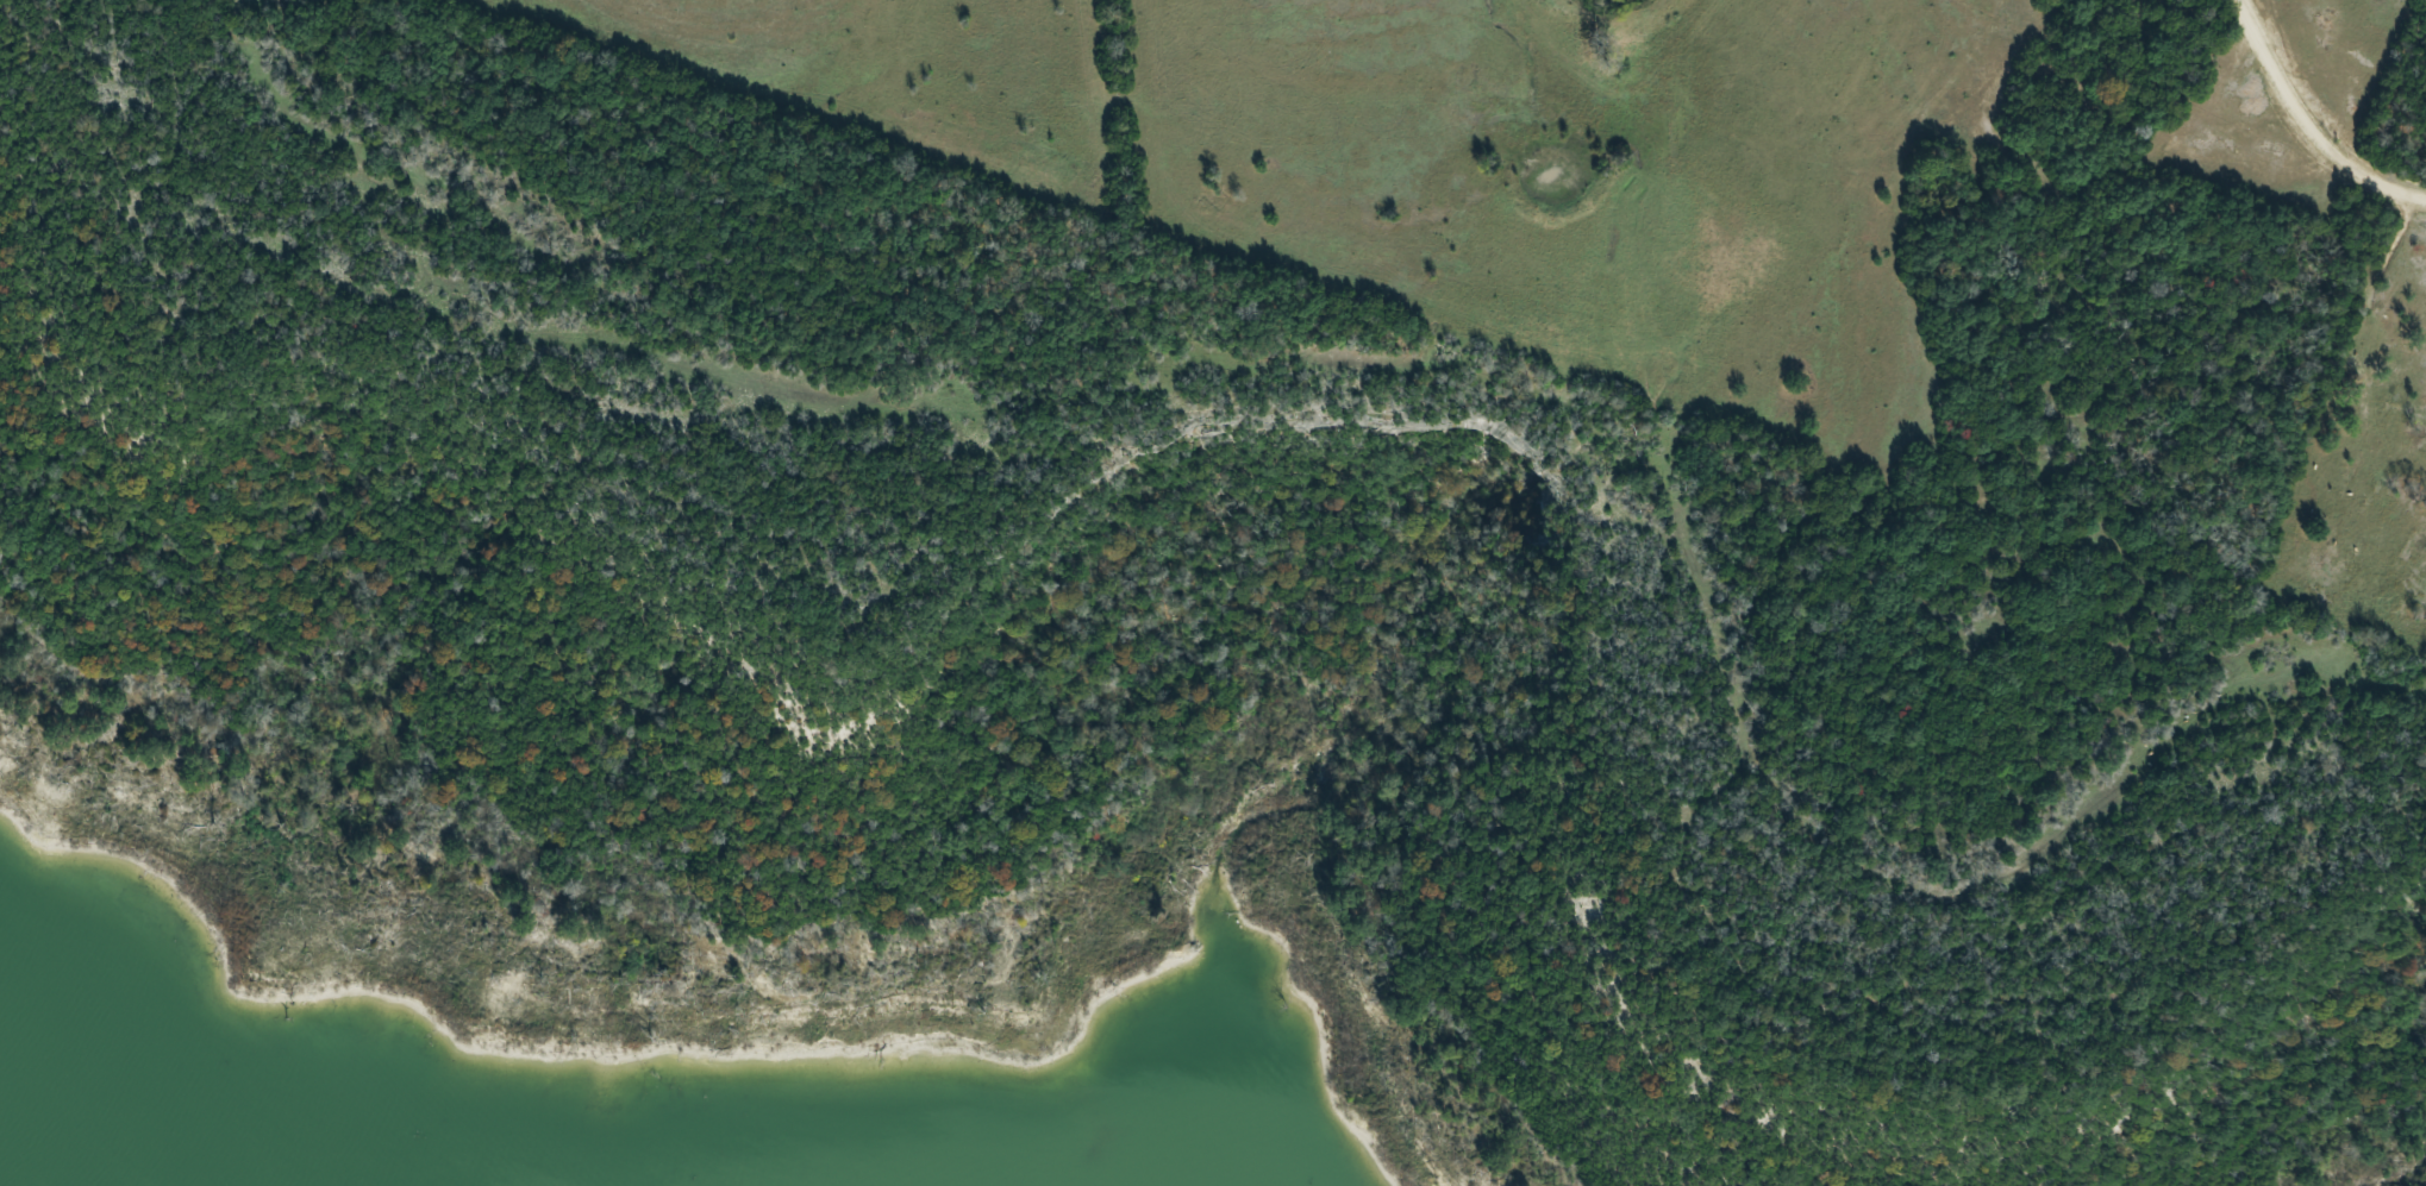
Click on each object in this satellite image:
road: (2307, 121)

